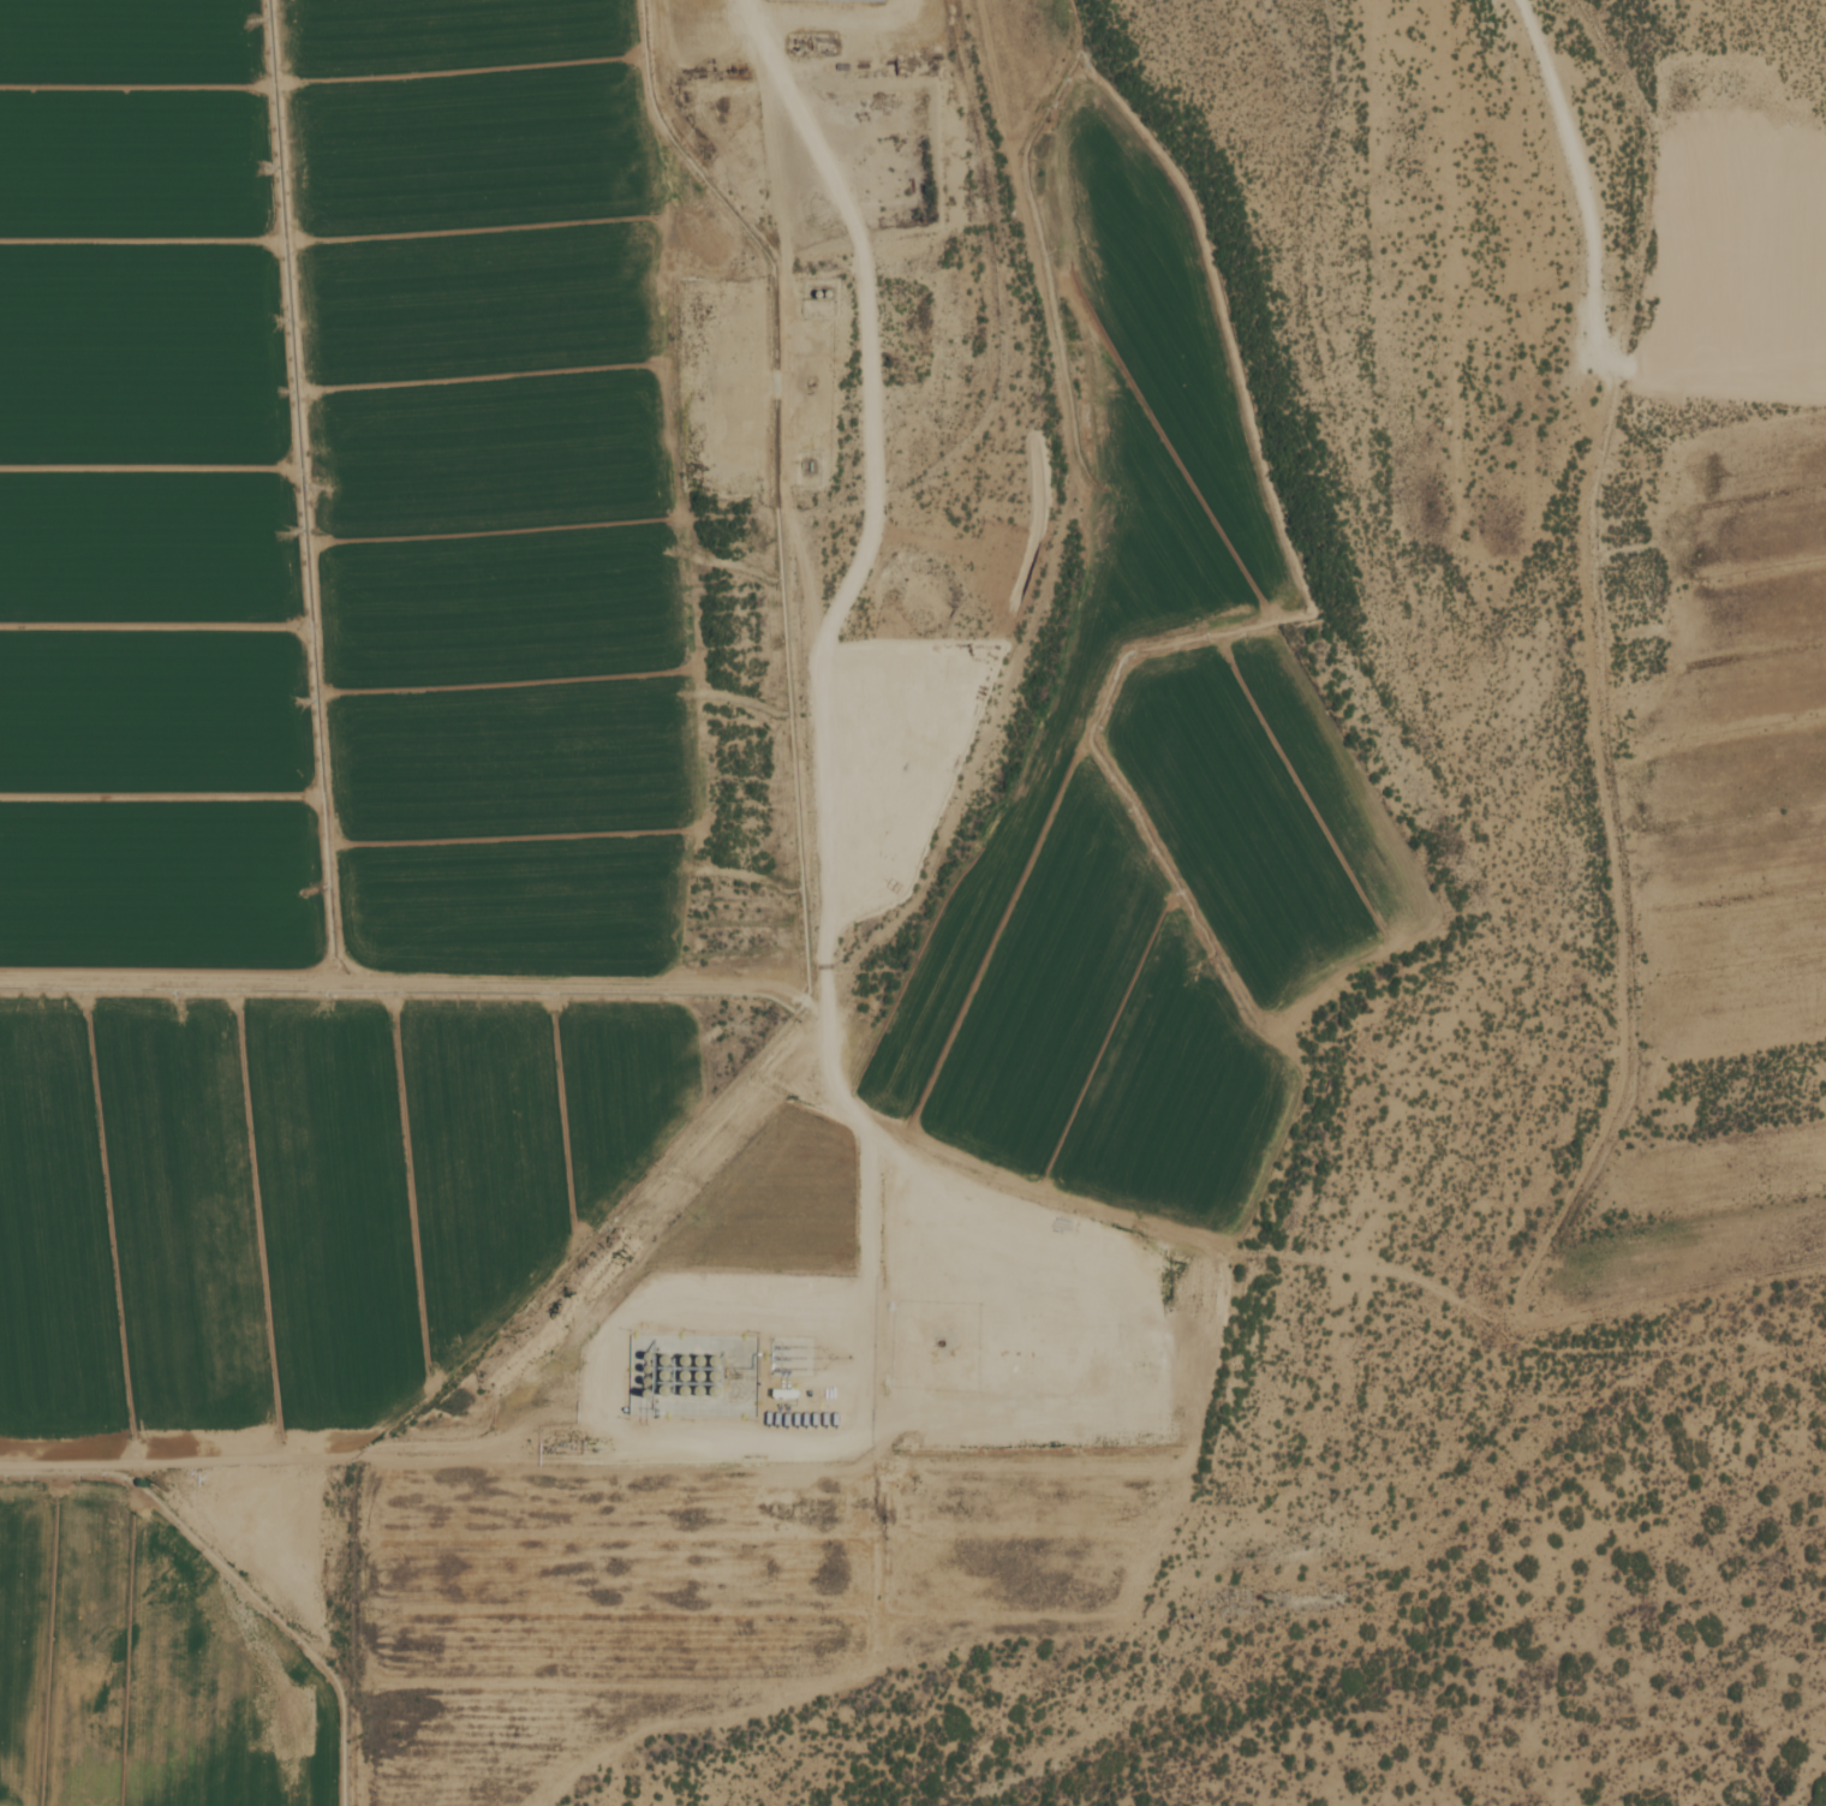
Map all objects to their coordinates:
building: (843, 0)
road: (895, 1126)

